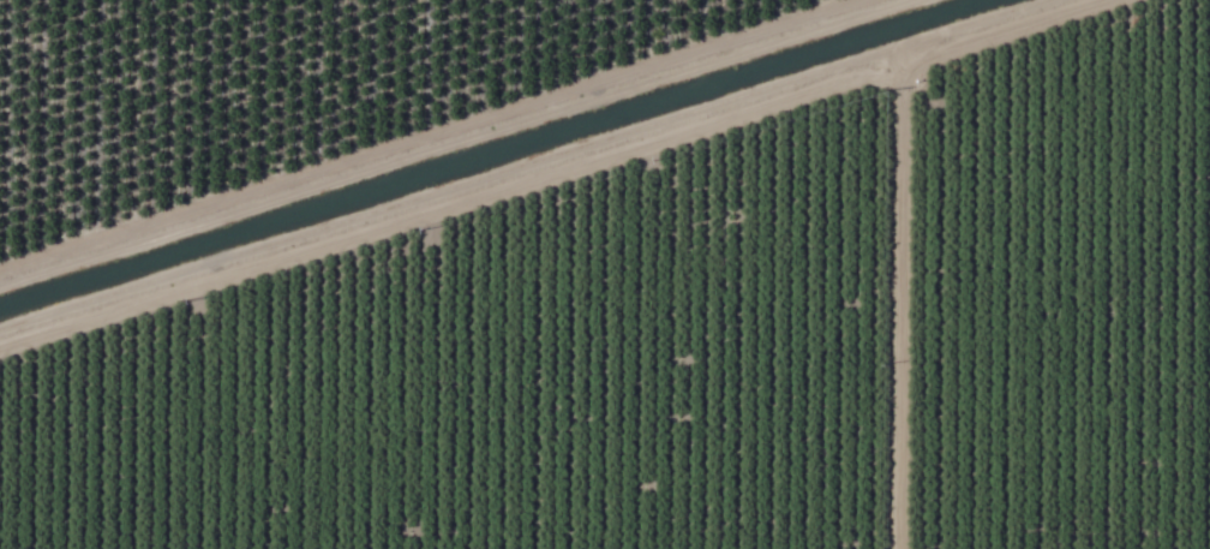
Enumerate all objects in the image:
crop: (605, 274)
road: (894, 333)

